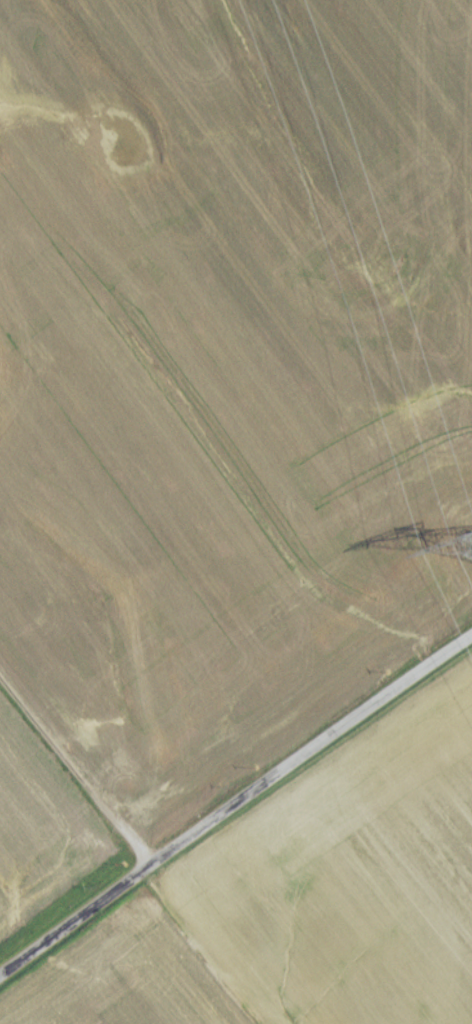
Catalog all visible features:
road: (231, 792)

